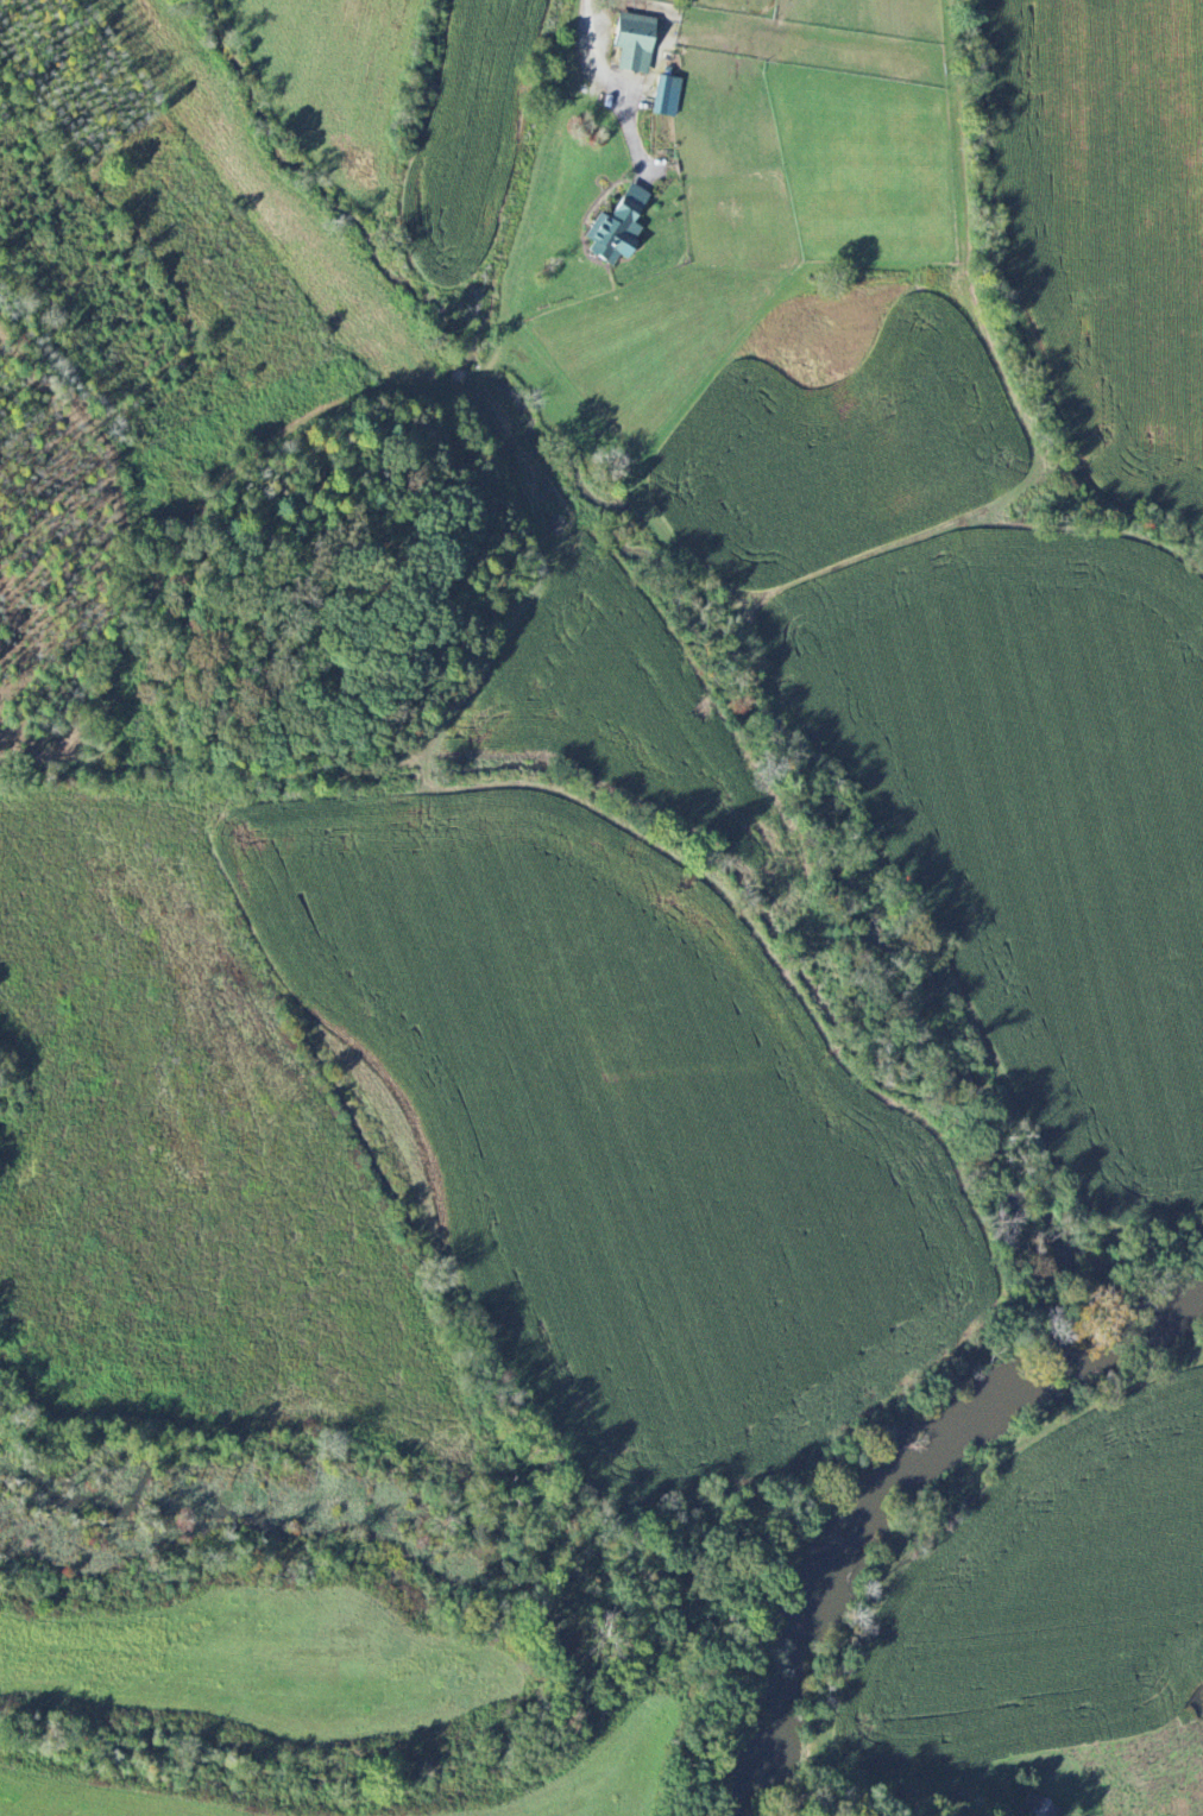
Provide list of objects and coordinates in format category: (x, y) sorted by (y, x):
building: (635, 43)
road: (597, 78)
building: (666, 96)
building: (617, 228)
river: (1152, 1324)
river: (856, 1530)
building: (1039, 1806)
road: (966, 1810)

